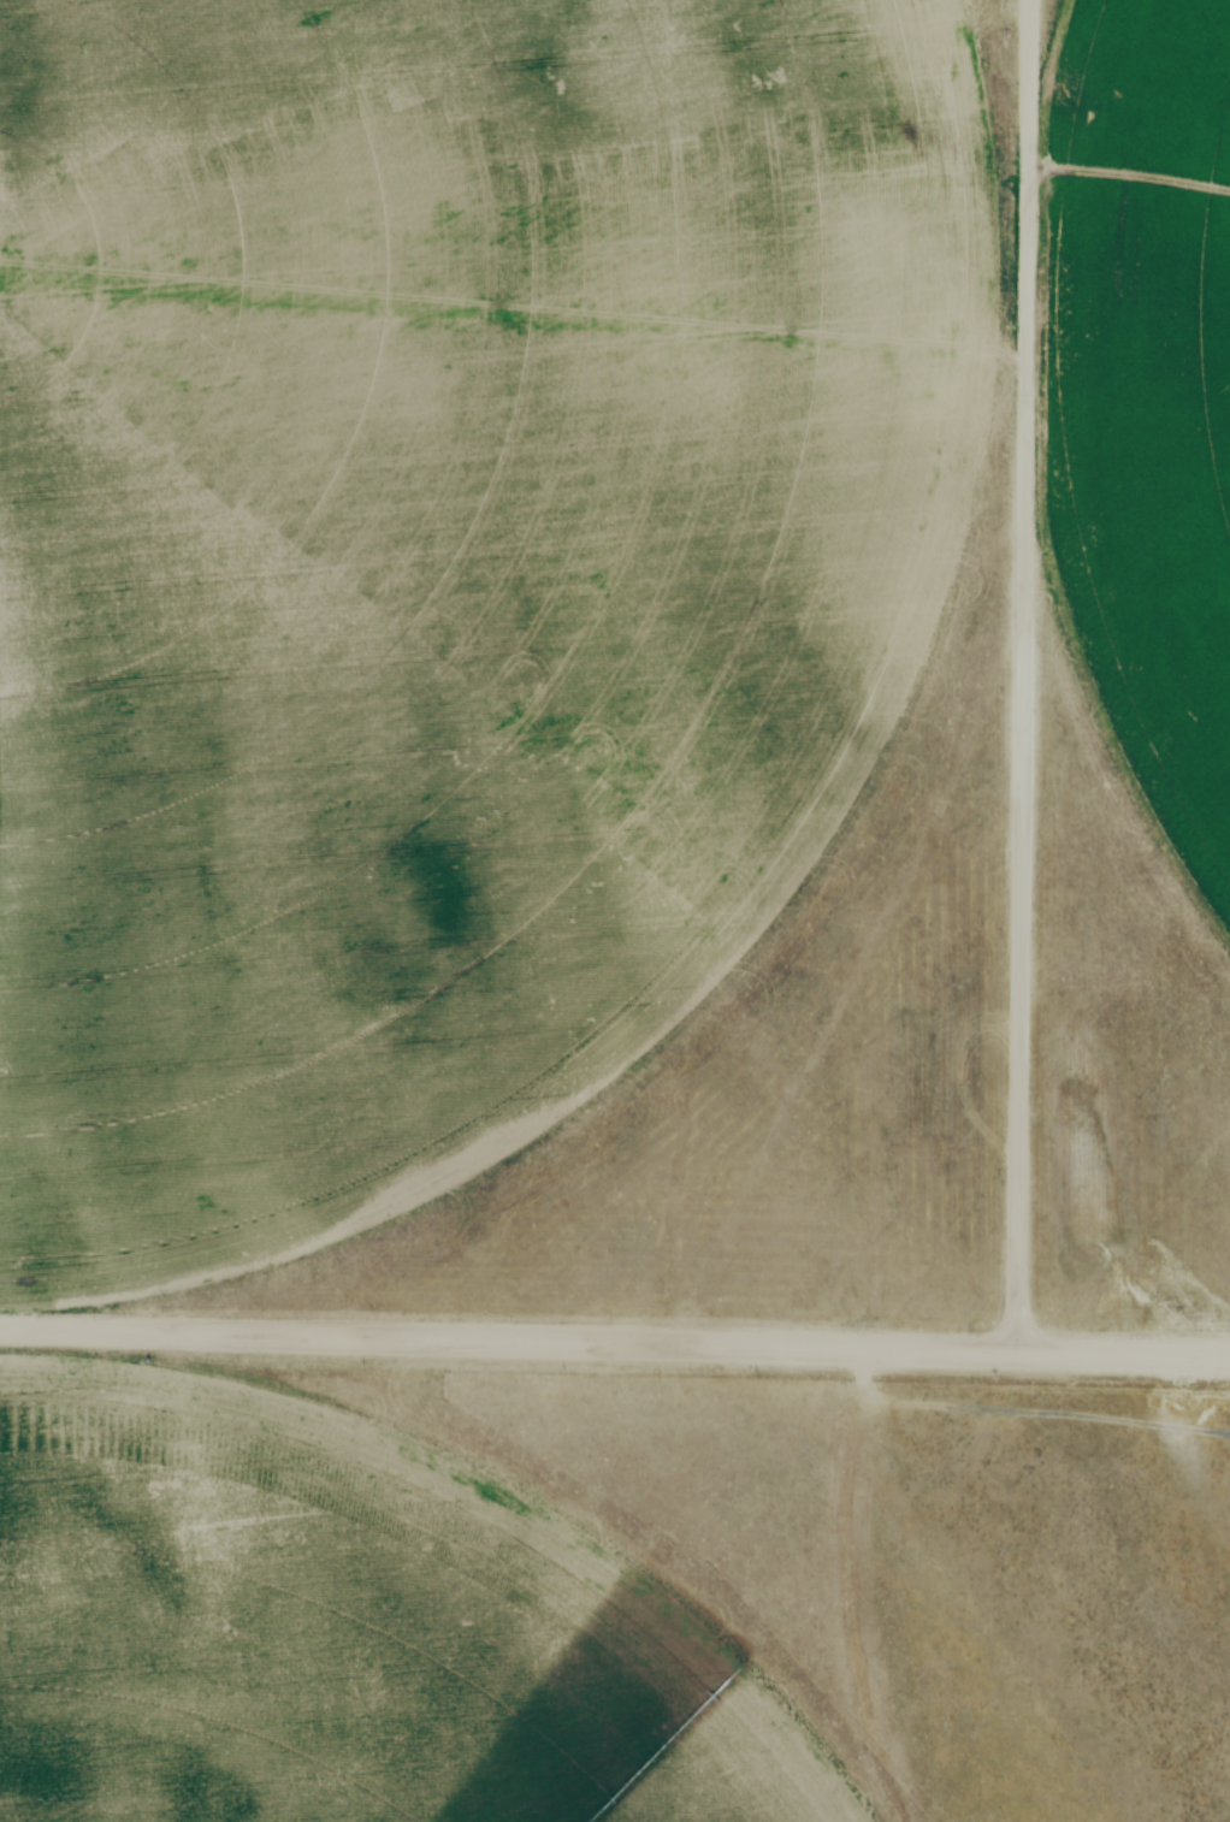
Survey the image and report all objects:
crop: (1141, 414)
crop: (439, 563)
road: (615, 1344)
road: (1027, 1413)
crop: (337, 1629)

